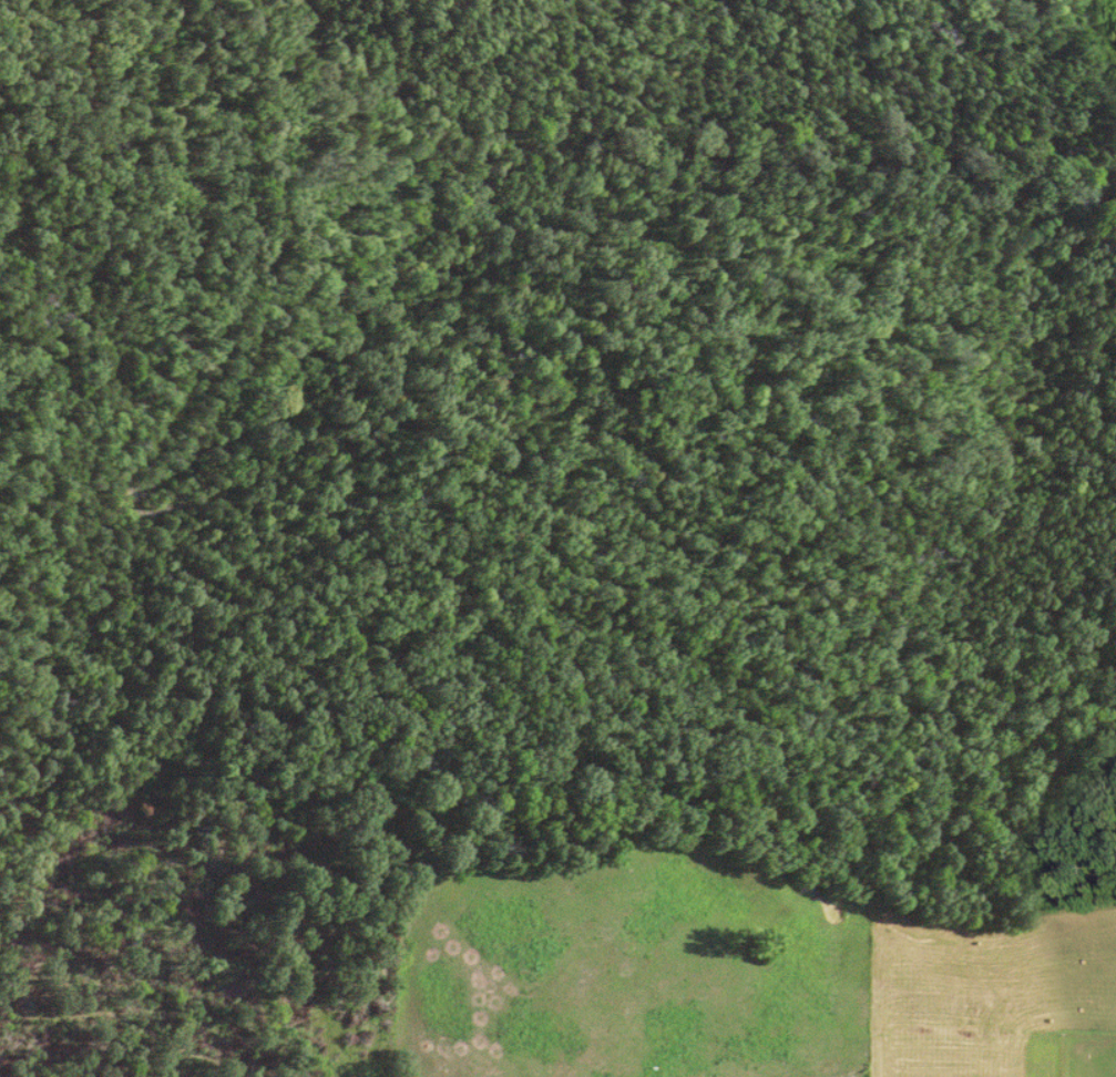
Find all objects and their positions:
park: (1086, 1055)

